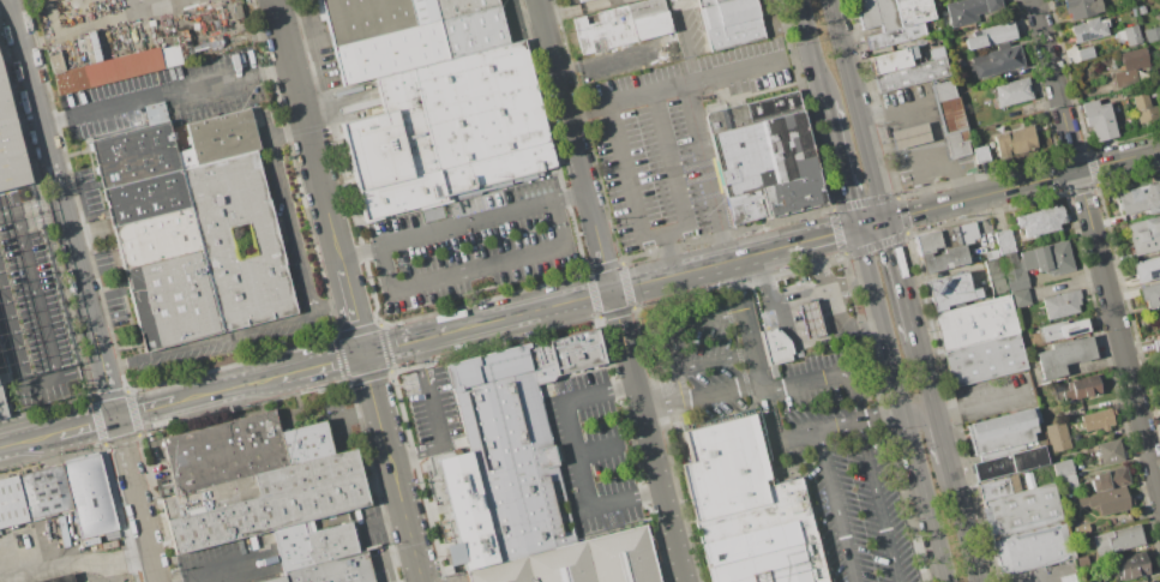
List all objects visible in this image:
building: (582, 0)
building: (668, 0)
building: (674, 0)
building: (38, 1)
building: (461, 7)
building: (1080, 8)
building: (969, 11)
building: (422, 12)
building: (365, 19)
building: (894, 20)
building: (729, 23)
building: (623, 25)
road: (84, 26)
building: (1089, 30)
building: (473, 31)
building: (1152, 35)
building: (991, 36)
building: (1129, 36)
rooftop solar panel: (1086, 37)
building: (390, 52)
road: (812, 52)
building: (1084, 54)
building: (997, 60)
building: (1131, 66)
building: (907, 68)
building: (116, 70)
road: (689, 82)
building: (1159, 85)
building: (1153, 90)
building: (1012, 92)
road: (166, 94)
building: (161, 109)
road: (858, 110)
building: (1144, 110)
building: (950, 119)
building: (1099, 120)
road: (307, 127)
road: (289, 131)
building: (447, 131)
building: (909, 136)
road: (912, 136)
building: (222, 137)
parking lot: (672, 142)
building: (1015, 143)
building: (10, 144)
building: (134, 155)
building: (981, 155)
building: (186, 158)
building: (764, 158)
road: (841, 166)
road: (952, 167)
road: (709, 172)
road: (1022, 185)
building: (146, 198)
building: (1140, 200)
road: (30, 204)
road: (62, 209)
road: (482, 217)
traffic signals: (886, 221)
building: (1040, 221)
road: (871, 226)
road: (293, 227)
traffic signals: (857, 230)
road: (665, 233)
building: (1144, 235)
building: (157, 238)
building: (215, 238)
road: (823, 238)
building: (1004, 241)
parking lot: (471, 245)
road: (1098, 246)
building: (945, 247)
road: (360, 250)
road: (672, 253)
building: (1036, 263)
road: (479, 268)
building: (1147, 270)
building: (994, 276)
road: (900, 278)
road: (345, 281)
road: (611, 290)
building: (950, 290)
road: (797, 292)
building: (1150, 295)
building: (1021, 299)
building: (173, 300)
building: (1062, 304)
road: (830, 306)
parking lot: (30, 308)
road: (333, 312)
building: (810, 319)
building: (975, 322)
road: (482, 323)
building: (1064, 329)
road: (46, 336)
road: (209, 344)
building: (1156, 344)
building: (775, 346)
road: (755, 349)
road: (677, 350)
building: (576, 352)
traffic signals: (365, 354)
building: (1064, 356)
building: (985, 360)
parking lot: (698, 361)
building: (1159, 361)
road: (925, 376)
road: (680, 388)
building: (1082, 388)
road: (719, 394)
road: (980, 404)
road: (900, 406)
road: (145, 409)
road: (660, 410)
road: (918, 414)
road: (357, 415)
traffic signals: (116, 418)
road: (880, 418)
road: (438, 419)
building: (1098, 419)
road: (89, 425)
road: (818, 431)
building: (1000, 434)
road: (939, 437)
building: (1057, 437)
road: (864, 438)
road: (30, 439)
building: (306, 443)
road: (387, 443)
parking lot: (594, 446)
building: (512, 448)
road: (596, 450)
building: (224, 451)
building: (1110, 451)
parking lot: (836, 452)
road: (576, 454)
building: (1011, 463)
building: (1062, 468)
building: (1110, 479)
building: (1065, 482)
building: (999, 488)
building: (44, 492)
building: (90, 497)
road: (136, 499)
building: (1114, 499)
building: (264, 502)
building: (11, 503)
road: (839, 506)
building: (746, 509)
building: (1021, 510)
building: (468, 511)
road: (383, 521)
road: (961, 521)
building: (1080, 529)
building: (1117, 540)
building: (312, 545)
building: (1032, 547)
road: (74, 551)
building: (579, 562)
building: (1081, 562)
building: (1130, 566)
building: (332, 570)
road: (104, 571)
road: (218, 571)
road: (1047, 577)
building: (1068, 577)
building: (59, 578)
building: (274, 580)
building: (1153, 581)

